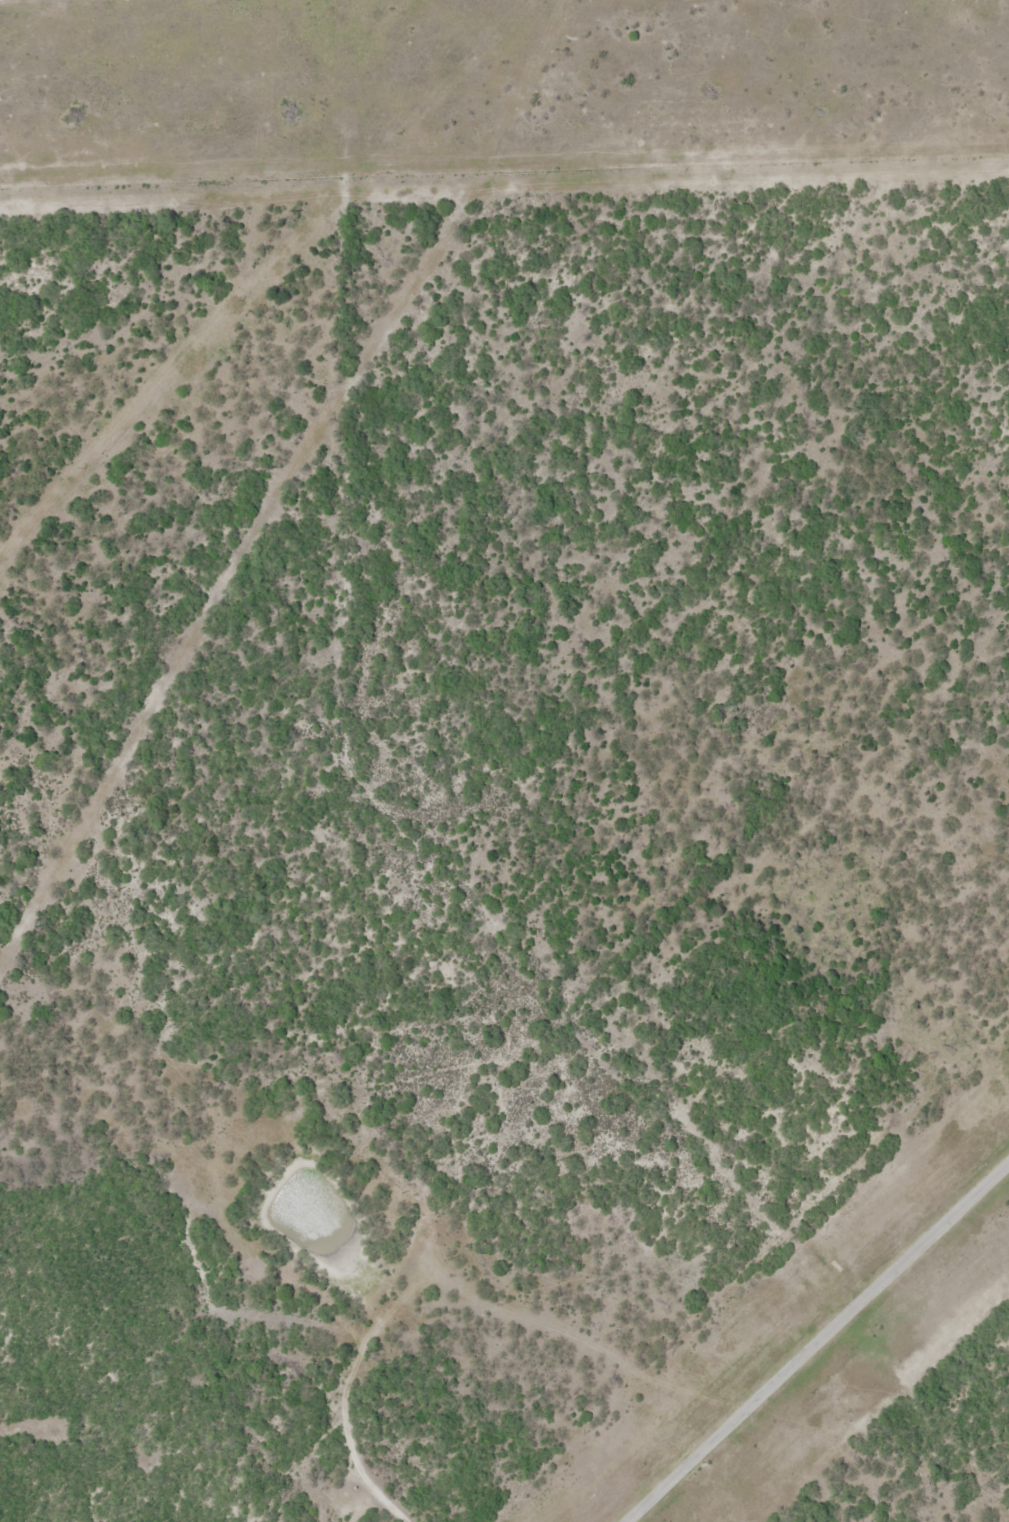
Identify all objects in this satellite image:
road: (829, 1353)

